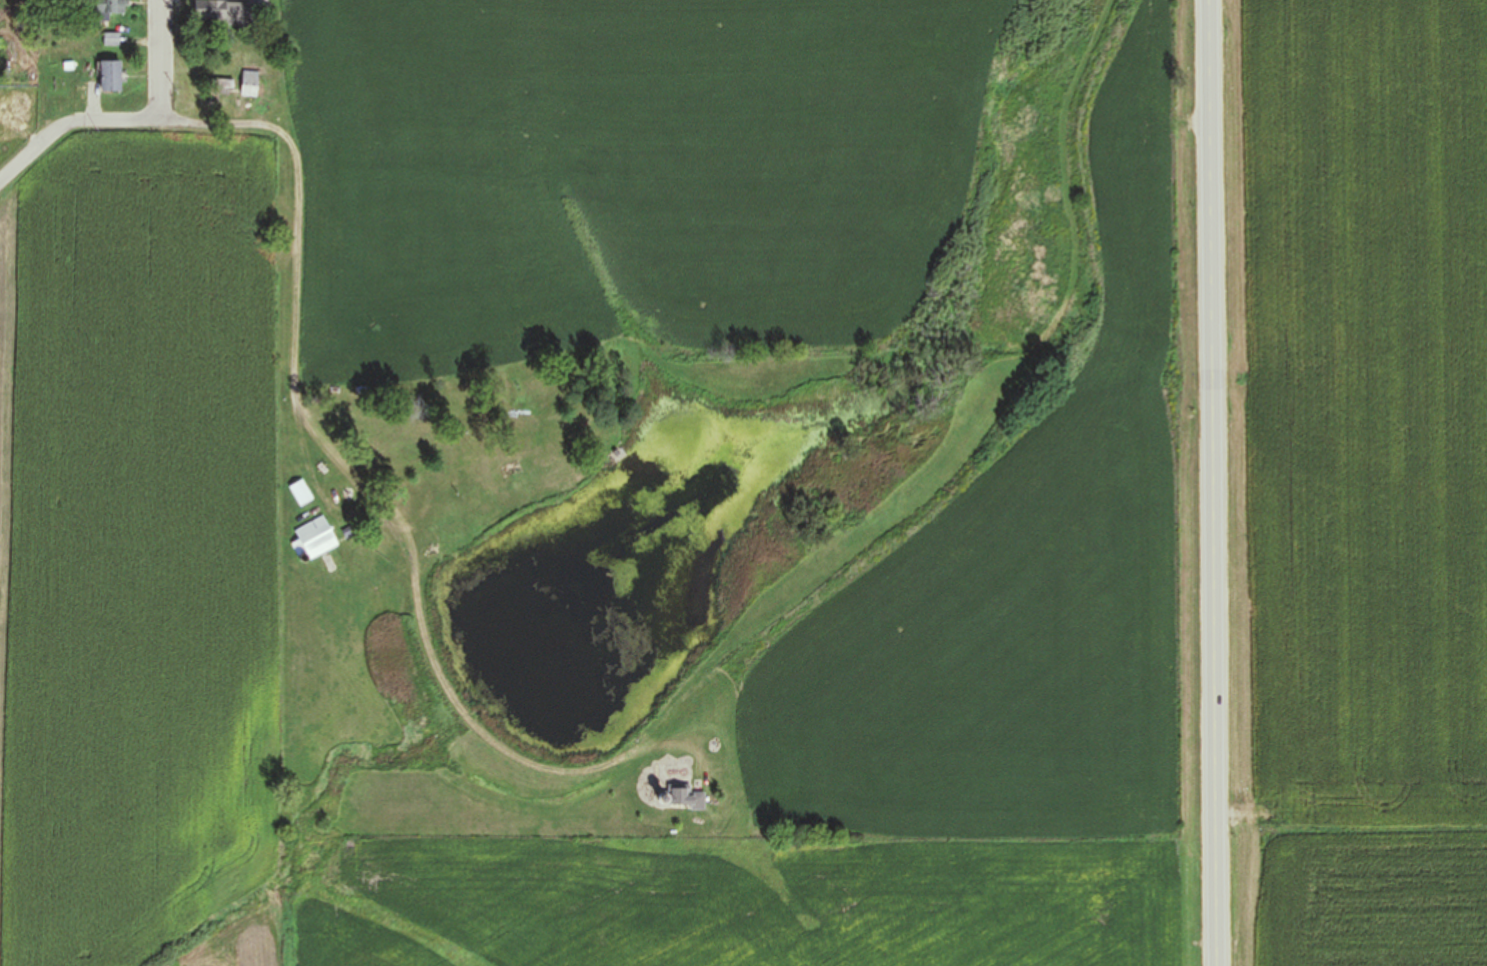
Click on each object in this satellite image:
building: (108, 9)
building: (222, 11)
building: (112, 39)
road: (163, 60)
building: (109, 76)
building: (217, 83)
building: (249, 83)
road: (263, 121)
road: (1215, 483)
building: (301, 493)
building: (315, 539)
building: (685, 798)

